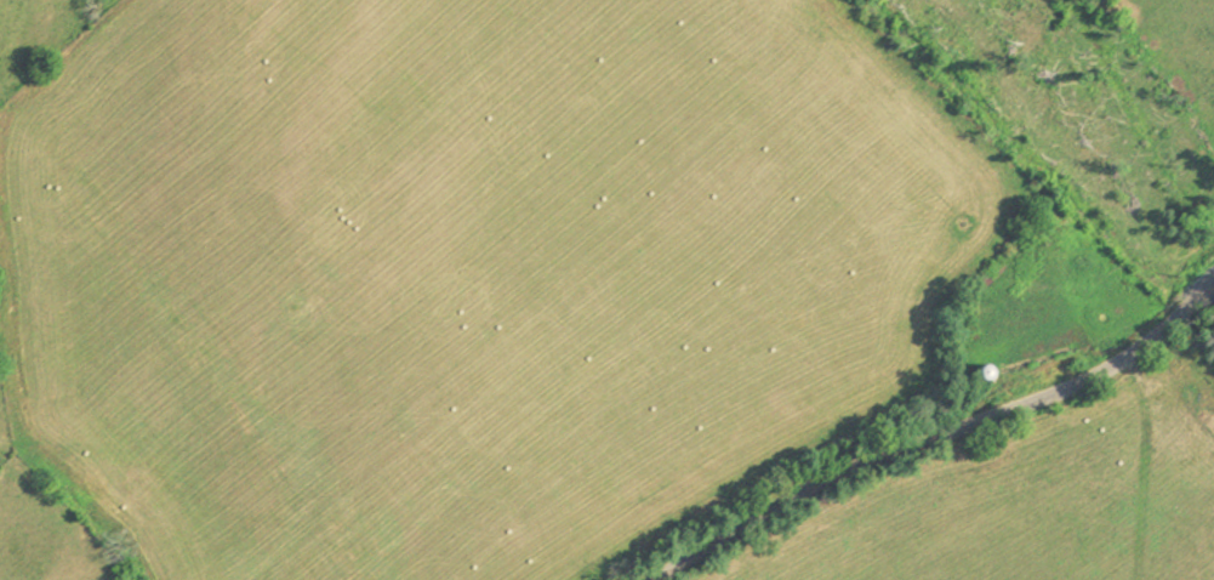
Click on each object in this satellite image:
crop: (40, 35)
road: (936, 430)
crop: (50, 519)

